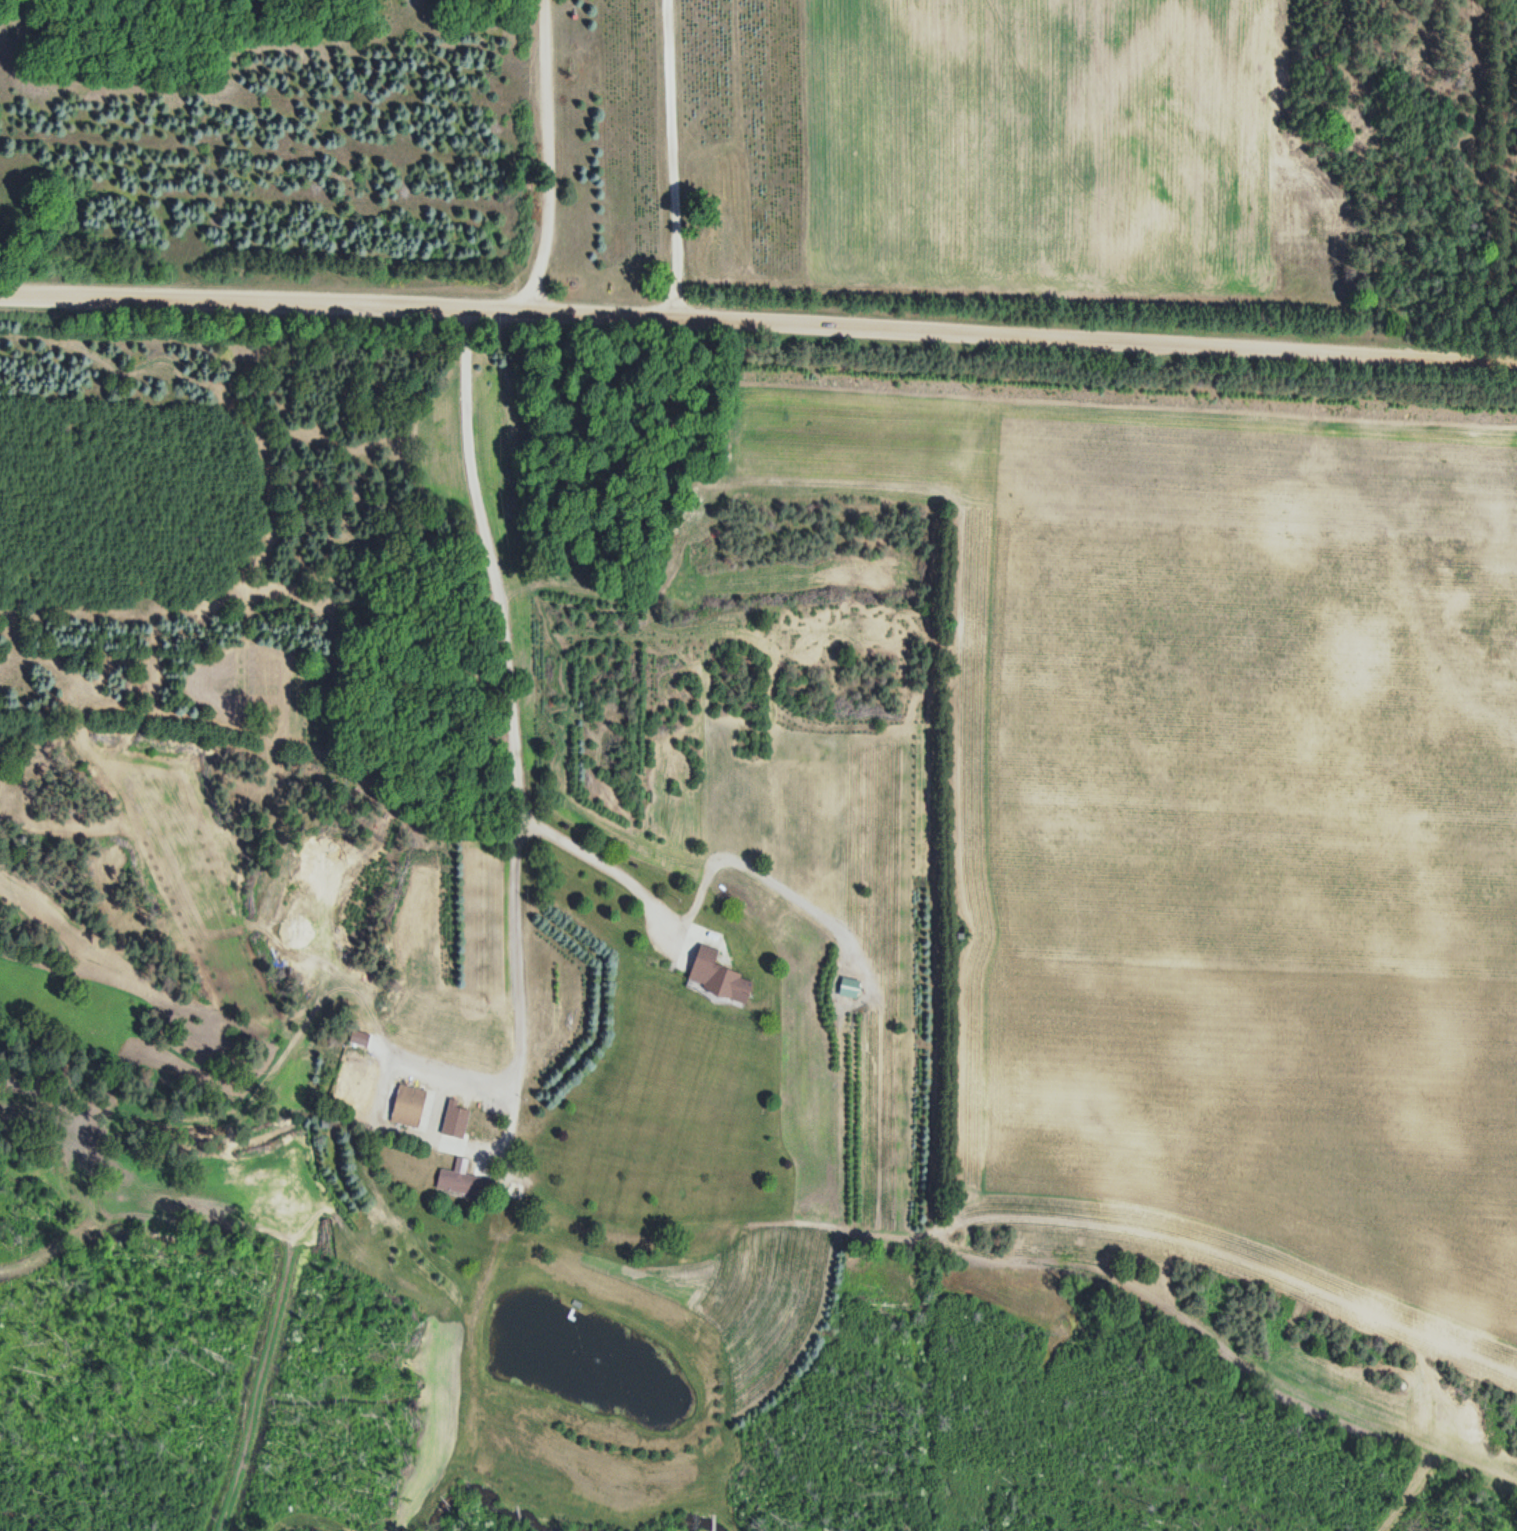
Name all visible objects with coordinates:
road: (546, 153)
road: (675, 155)
road: (758, 316)
road: (511, 741)
building: (712, 976)
building: (846, 987)
building: (404, 1104)
building: (453, 1117)
building: (460, 1182)
road: (996, 1216)

